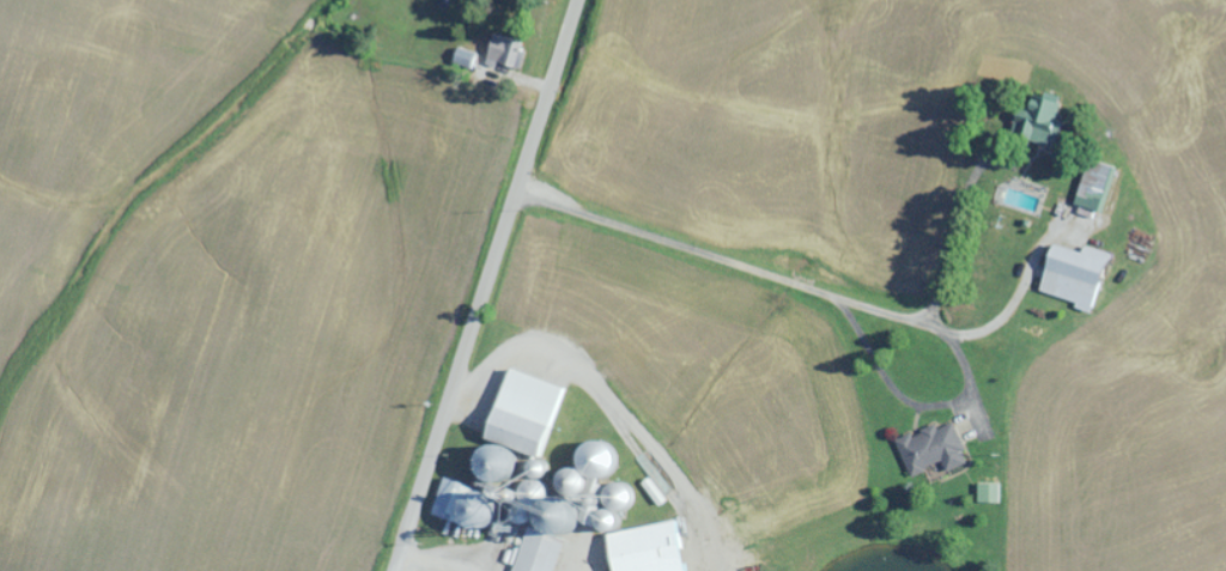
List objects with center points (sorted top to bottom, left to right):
building: (1038, 123)
building: (1069, 277)
road: (481, 285)
building: (510, 444)
building: (936, 449)
building: (657, 548)
building: (546, 552)

